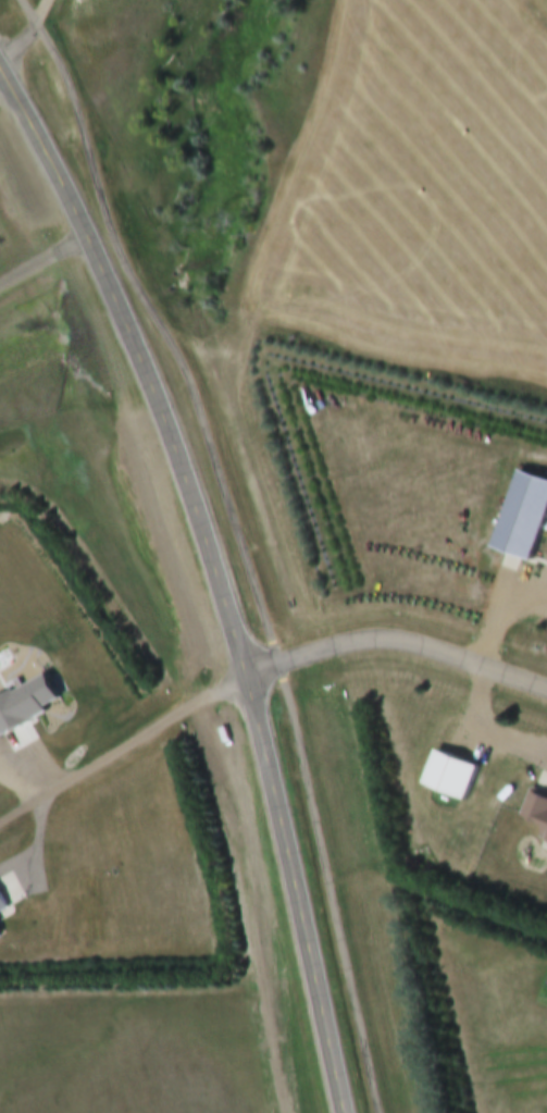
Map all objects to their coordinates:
road: (28, 37)
road: (3, 77)
road: (43, 264)
building: (524, 518)
road: (239, 542)
road: (219, 571)
road: (396, 642)
building: (25, 710)
road: (122, 753)
building: (450, 777)
road: (23, 788)
building: (544, 823)
building: (7, 902)
building: (0, 939)

